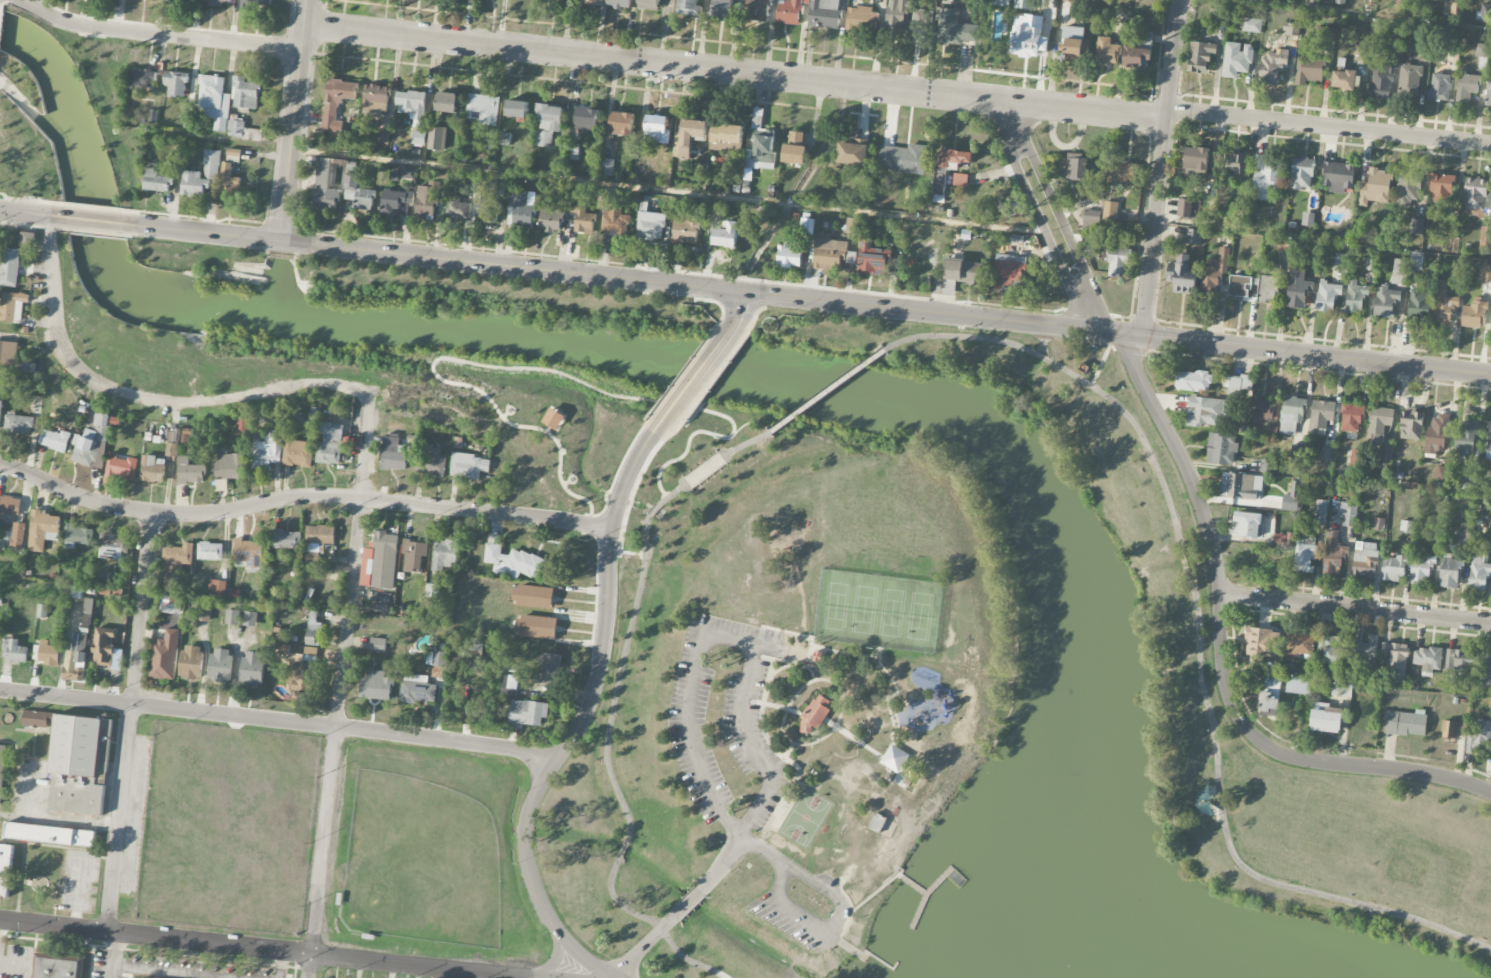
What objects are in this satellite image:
building: (177, 0)
building: (562, 0)
building: (1069, 1)
building: (216, 2)
building: (592, 2)
building: (1340, 2)
building: (257, 3)
building: (1001, 3)
building: (619, 4)
building: (1023, 4)
building: (648, 5)
building: (689, 7)
building: (722, 8)
building: (757, 10)
building: (790, 11)
building: (824, 14)
road: (1371, 14)
building: (896, 16)
building: (862, 18)
building: (1251, 26)
building: (953, 29)
building: (1291, 29)
road: (154, 35)
building: (1028, 37)
building: (1072, 44)
building: (1362, 49)
building: (1479, 49)
building: (1107, 51)
building: (1138, 52)
building: (1201, 57)
building: (1237, 60)
building: (1272, 65)
building: (1309, 71)
road: (735, 74)
building: (141, 80)
building: (1344, 80)
building: (1409, 80)
building: (1382, 83)
building: (176, 84)
building: (1466, 85)
building: (1440, 87)
building: (1488, 88)
building: (245, 94)
building: (376, 100)
building: (214, 101)
building: (337, 102)
building: (446, 103)
building: (411, 104)
building: (483, 109)
building: (516, 109)
road: (293, 120)
building: (587, 121)
building: (548, 124)
building: (622, 124)
road: (1329, 126)
building: (656, 129)
building: (242, 131)
building: (726, 137)
building: (383, 138)
building: (418, 138)
building: (688, 138)
building: (437, 139)
building: (504, 139)
park: (25, 145)
building: (794, 149)
building: (763, 151)
building: (852, 154)
building: (954, 157)
building: (903, 159)
building: (1196, 159)
building: (1229, 163)
building: (212, 165)
road: (1161, 167)
building: (607, 168)
building: (1076, 168)
building: (407, 173)
building: (1122, 173)
building: (1302, 174)
building: (1267, 177)
building: (1337, 177)
building: (961, 179)
road: (587, 181)
building: (156, 182)
building: (193, 184)
building: (229, 184)
building: (328, 185)
building: (491, 187)
building: (1408, 187)
building: (1441, 187)
building: (1376, 188)
building: (359, 192)
building: (1475, 193)
building: (395, 201)
building: (426, 202)
building: (458, 208)
building: (521, 209)
building: (1189, 209)
building: (488, 210)
road: (22, 211)
building: (1110, 211)
road: (53, 215)
road: (1037, 216)
building: (582, 217)
building: (551, 218)
road: (1060, 218)
road: (93, 219)
building: (1307, 219)
building: (1091, 221)
building: (614, 224)
building: (650, 226)
building: (807, 226)
building: (1417, 227)
building: (684, 230)
road: (202, 232)
building: (726, 235)
building: (1484, 235)
building: (1193, 237)
building: (27, 240)
building: (829, 252)
building: (789, 255)
building: (872, 259)
building: (1417, 261)
building: (1118, 262)
building: (1371, 263)
road: (511, 265)
building: (9, 267)
building: (1008, 271)
building: (963, 272)
building: (1214, 272)
building: (1399, 272)
building: (1486, 274)
building: (1183, 276)
building: (1269, 283)
building: (1238, 288)
building: (1298, 289)
building: (1327, 296)
building: (1355, 297)
building: (1386, 303)
building: (1443, 304)
building: (1419, 306)
building: (13, 307)
road: (915, 309)
road: (739, 310)
building: (1474, 314)
building: (1490, 321)
road: (1117, 324)
road: (1100, 330)
road: (1118, 332)
road: (1133, 334)
road: (957, 336)
road: (1111, 337)
road: (1314, 339)
road: (1127, 346)
road: (1316, 354)
building: (8, 355)
road: (1039, 355)
road: (1098, 364)
road: (521, 368)
building: (1081, 368)
road: (1310, 369)
road: (697, 374)
building: (1193, 380)
building: (1238, 385)
road: (825, 389)
road: (137, 398)
road: (417, 398)
building: (1260, 409)
building: (0, 411)
building: (1208, 412)
building: (1290, 414)
road: (460, 416)
building: (1320, 417)
building: (1351, 418)
building: (554, 419)
building: (19, 425)
building: (1411, 425)
road: (545, 427)
building: (1270, 431)
road: (1139, 434)
building: (1380, 434)
building: (1436, 436)
building: (54, 440)
building: (1465, 440)
road: (744, 443)
building: (92, 444)
building: (171, 444)
building: (330, 444)
building: (1488, 444)
building: (1220, 449)
building: (266, 452)
building: (298, 454)
building: (1296, 454)
building: (394, 455)
building: (1326, 456)
road: (1181, 458)
building: (1356, 458)
building: (431, 464)
building: (228, 466)
building: (469, 466)
building: (1267, 466)
building: (120, 469)
building: (153, 469)
road: (630, 470)
road: (704, 471)
building: (189, 472)
building: (1440, 474)
building: (1241, 485)
building: (1466, 486)
road: (301, 497)
building: (1291, 498)
building: (10, 505)
building: (1320, 512)
building: (1346, 513)
building: (1378, 524)
building: (1247, 525)
building: (1406, 527)
building: (1438, 528)
building: (42, 530)
building: (1464, 534)
building: (18, 536)
building: (78, 536)
building: (1279, 539)
building: (286, 540)
building: (317, 542)
building: (112, 546)
building: (210, 551)
road: (624, 552)
building: (249, 553)
building: (1304, 554)
building: (1333, 554)
building: (444, 555)
building: (414, 556)
building: (384, 560)
building: (1364, 560)
building: (516, 562)
road: (1180, 562)
building: (1393, 568)
building: (1421, 569)
building: (1450, 570)
building: (1477, 573)
building: (217, 589)
building: (432, 591)
building: (233, 594)
road: (1360, 594)
building: (533, 597)
road: (606, 598)
road: (802, 598)
building: (170, 605)
park: (836, 605)
road: (1355, 606)
park: (864, 609)
park: (892, 613)
building: (203, 614)
park: (920, 616)
building: (233, 617)
road: (1194, 618)
building: (250, 619)
road: (1355, 622)
park: (844, 624)
building: (537, 627)
building: (313, 630)
road: (744, 643)
building: (1261, 643)
building: (476, 644)
road: (808, 644)
building: (377, 645)
building: (1297, 646)
building: (106, 649)
building: (284, 650)
building: (1330, 650)
building: (14, 651)
building: (48, 653)
building: (1362, 653)
road: (620, 654)
road: (806, 655)
building: (814, 655)
building: (165, 656)
building: (1394, 660)
building: (1428, 660)
road: (785, 661)
road: (875, 661)
building: (191, 662)
building: (220, 665)
building: (74, 666)
building: (1459, 666)
building: (252, 669)
road: (776, 669)
building: (546, 670)
building: (1484, 670)
road: (1197, 671)
road: (1237, 680)
road: (827, 681)
road: (890, 681)
road: (340, 684)
building: (374, 685)
building: (509, 685)
building: (1298, 686)
building: (1341, 689)
building: (416, 690)
building: (1269, 696)
road: (898, 700)
road: (773, 706)
building: (528, 713)
building: (815, 714)
road: (742, 716)
building: (1325, 718)
building: (37, 719)
parking lot: (722, 720)
road: (277, 721)
road: (129, 723)
building: (1405, 723)
building: (1452, 729)
road: (851, 738)
building: (1479, 738)
road: (692, 739)
road: (779, 755)
road: (779, 756)
road: (1294, 756)
road: (1412, 757)
building: (890, 758)
building: (76, 767)
building: (2, 771)
road: (795, 783)
park: (802, 817)
road: (747, 820)
road: (80, 821)
building: (874, 821)
road: (524, 830)
building: (50, 835)
road: (756, 846)
road: (620, 850)
park: (421, 862)
building: (5, 870)
road: (1271, 881)
road: (911, 885)
road: (923, 894)
road: (694, 896)
road: (864, 897)
parking lot: (801, 909)
road: (655, 922)
road: (832, 928)
road: (831, 936)
road: (258, 949)
road: (851, 949)
road: (639, 951)
road: (113, 955)
road: (554, 960)
road: (880, 962)
road: (282, 965)
building: (55, 967)
road: (171, 971)

